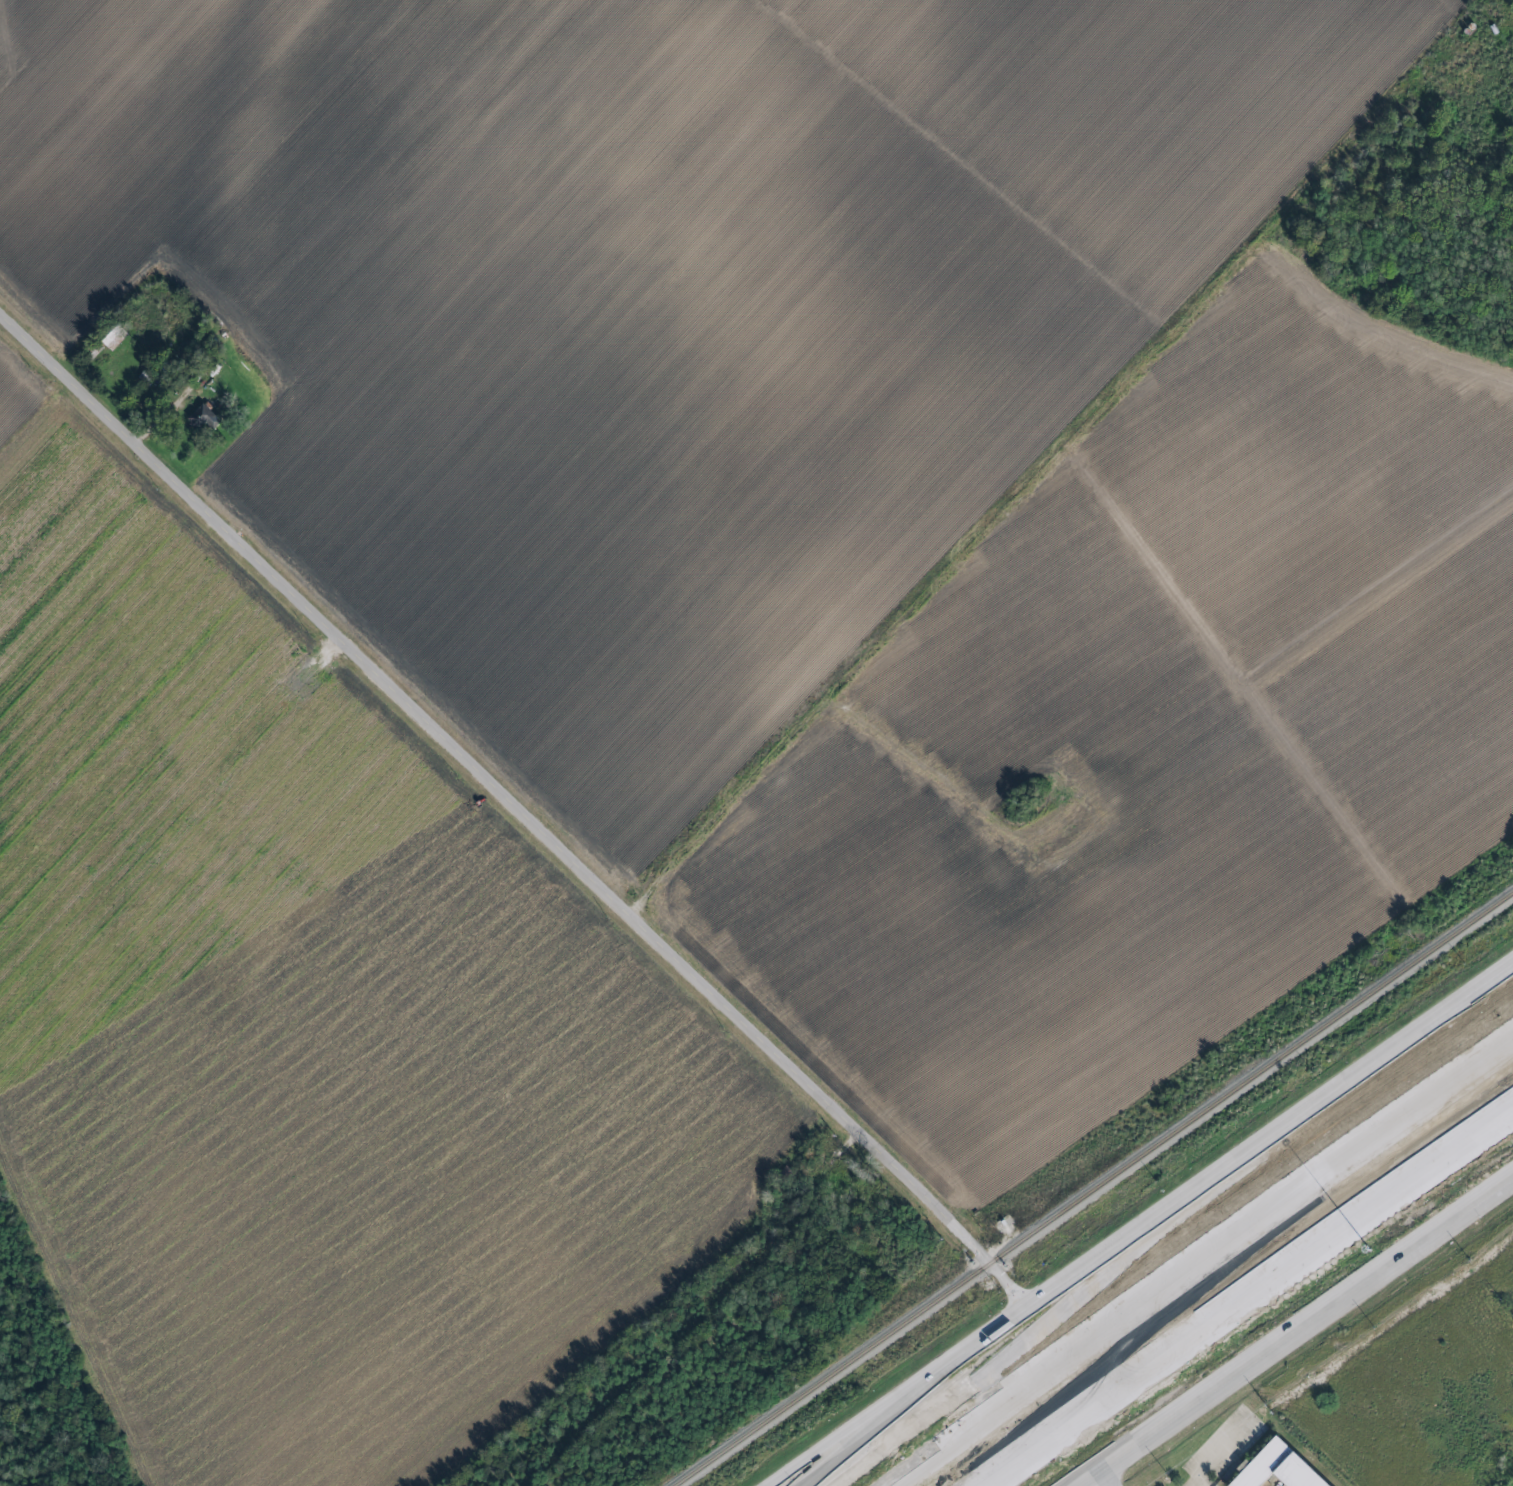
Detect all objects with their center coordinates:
road: (34, 409)
building: (205, 419)
road: (1020, 501)
road: (314, 611)
road: (265, 730)
road: (1434, 1093)
road: (827, 1105)
road: (1271, 1136)
railway: (1093, 1188)
road: (1285, 1272)
road: (1057, 1316)
road: (1121, 1316)
road: (1301, 1321)
road: (901, 1395)
road: (1143, 1424)
road: (1018, 1459)
building: (1284, 1468)
road: (1079, 1476)
road: (1098, 1476)

